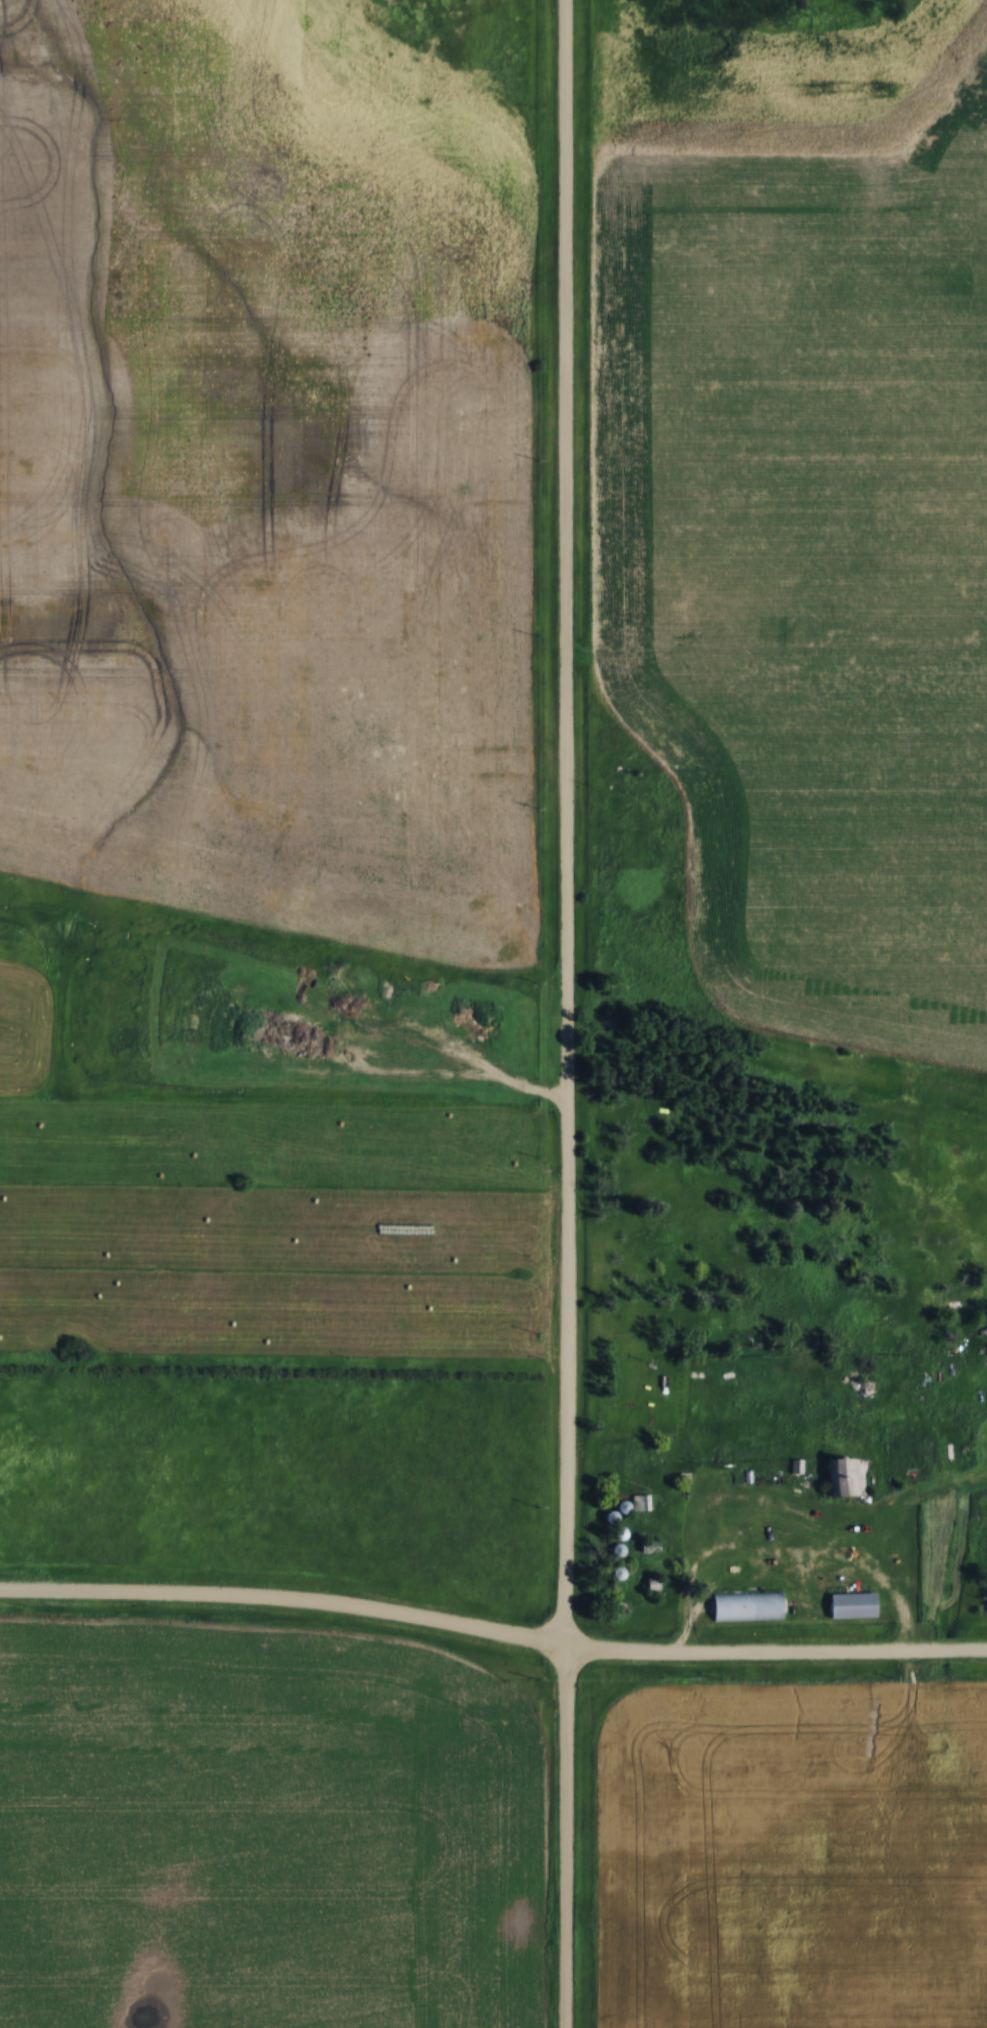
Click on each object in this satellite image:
crop: (265, 468)
road: (566, 824)
building: (849, 1474)
building: (638, 1502)
building: (648, 1546)
road: (285, 1597)
building: (854, 1607)
building: (746, 1608)
road: (776, 1648)
road: (560, 1838)

